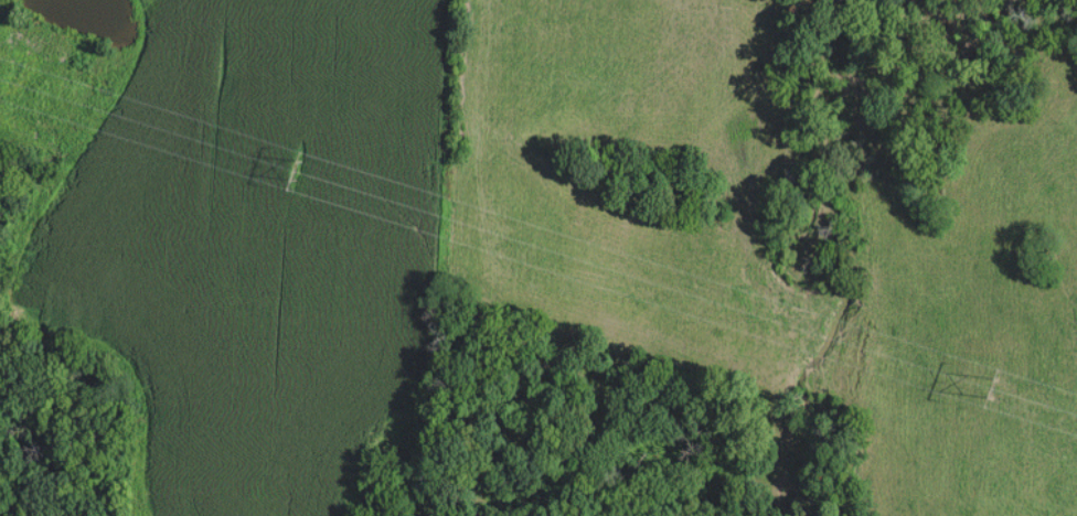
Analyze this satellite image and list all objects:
power tower: (299, 170)
power tower: (991, 387)

